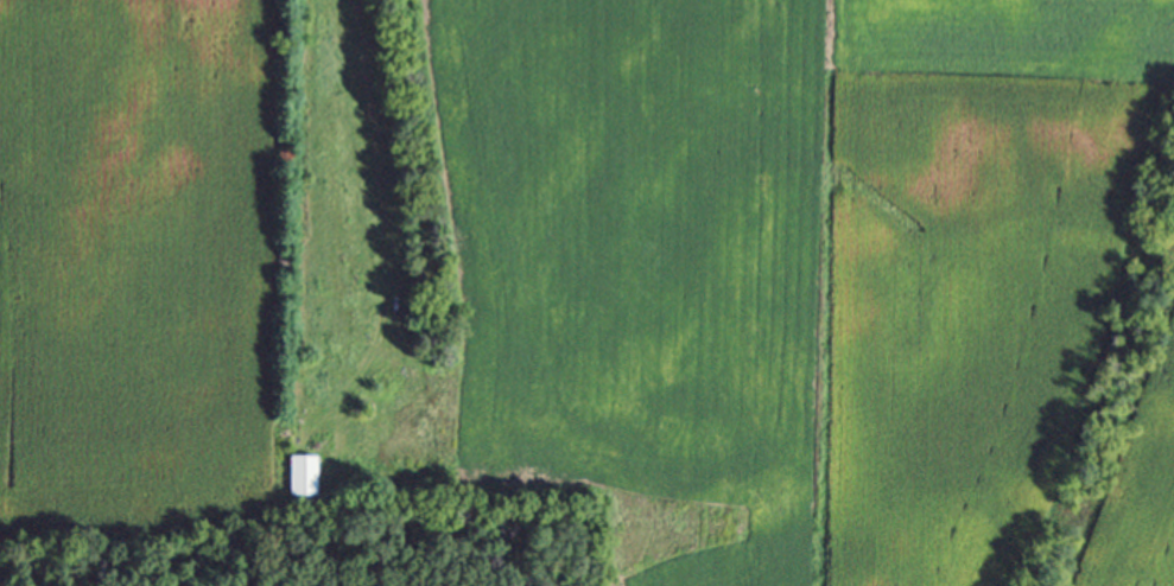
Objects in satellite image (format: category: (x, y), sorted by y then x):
building: (312, 480)

